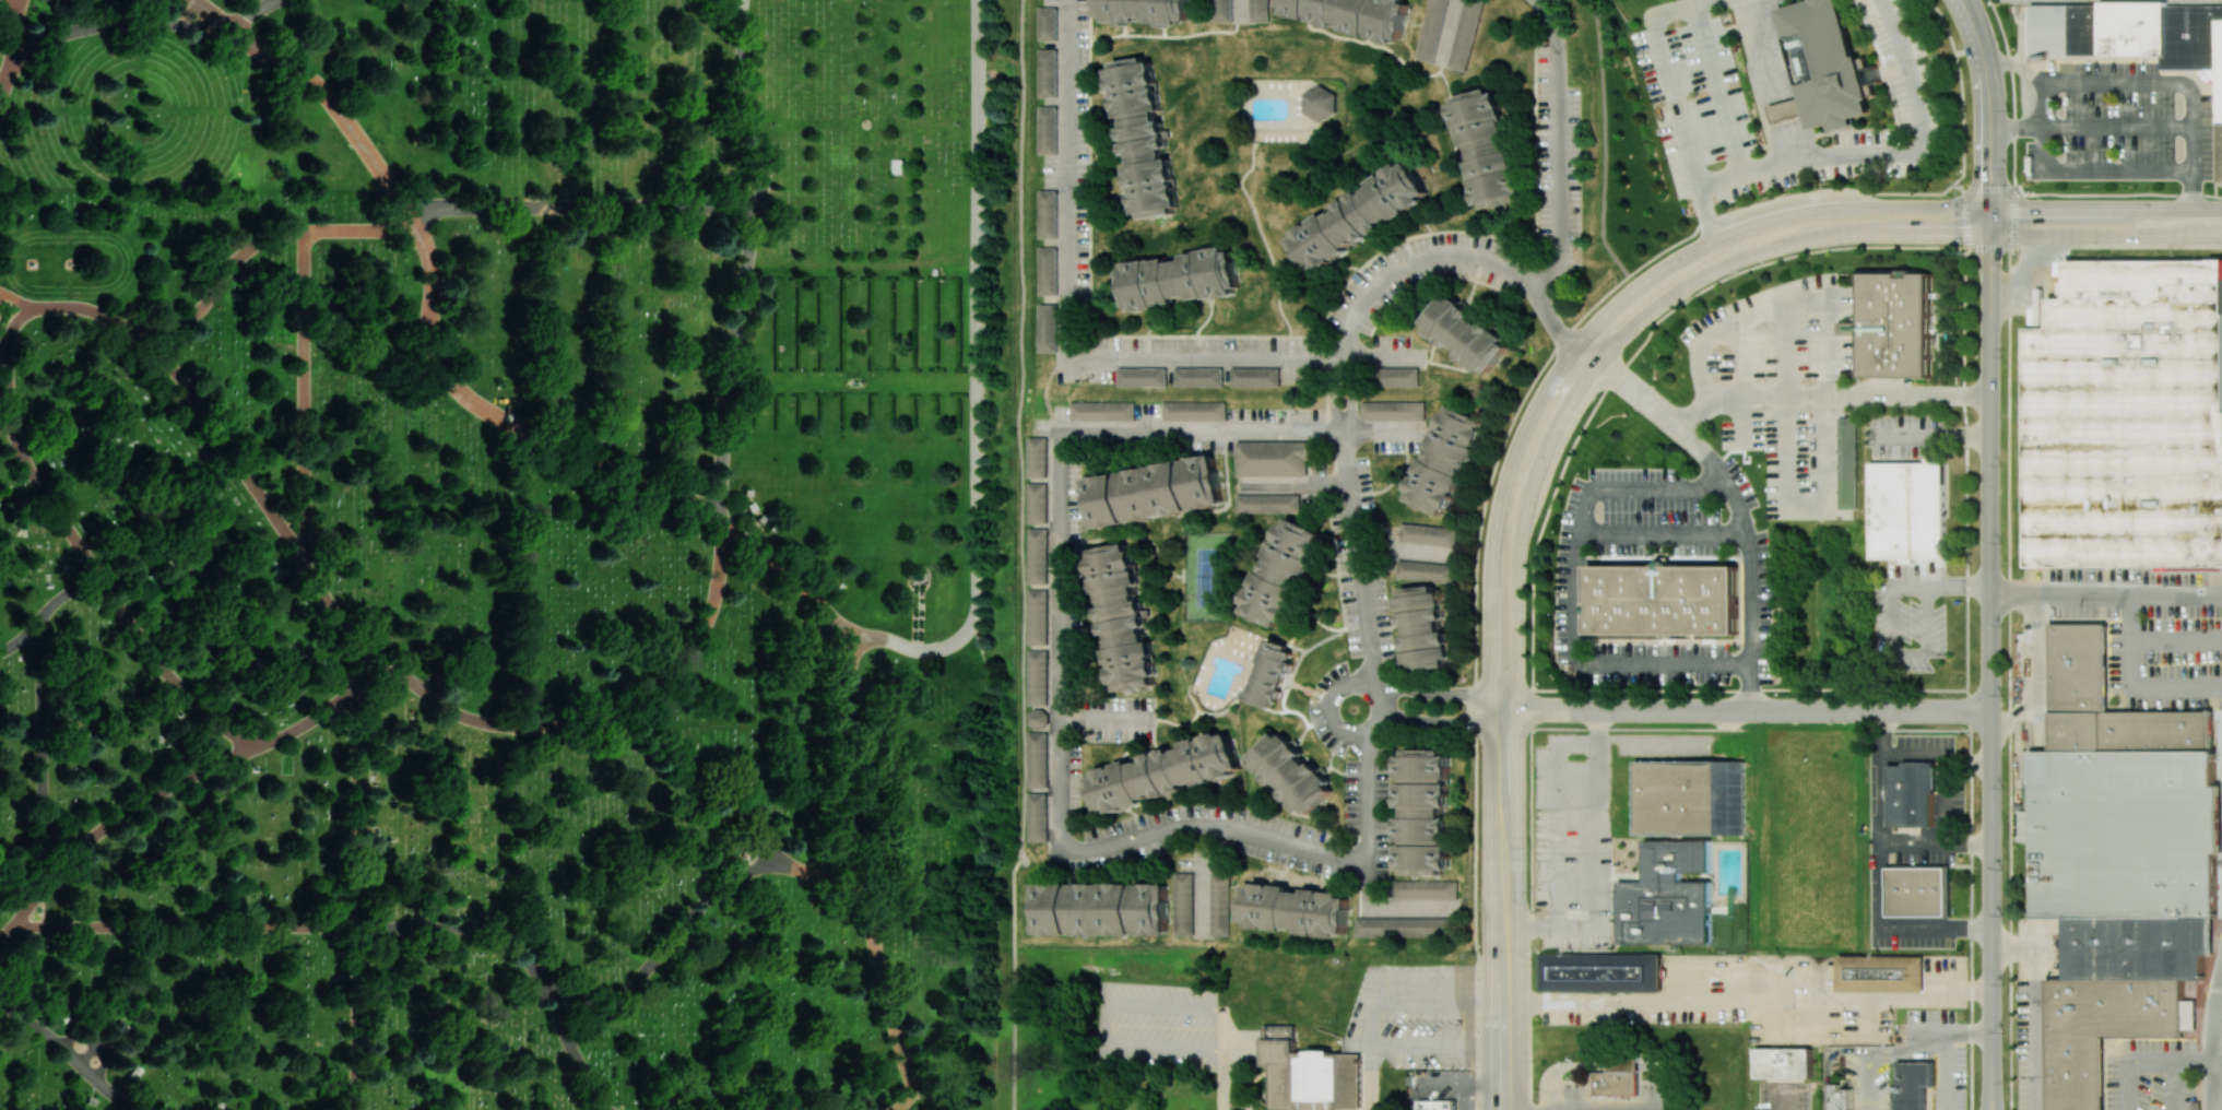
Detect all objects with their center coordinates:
road: (1706, 2)
road: (8, 8)
road: (1241, 8)
building: (1222, 10)
building: (1260, 10)
building: (1145, 11)
road: (1671, 11)
road: (15, 13)
road: (250, 14)
road: (210, 15)
building: (1354, 15)
road: (131, 22)
building: (1048, 23)
building: (1431, 29)
building: (1466, 34)
building: (2134, 34)
road: (24, 36)
road: (15, 45)
road: (1765, 51)
road: (24, 52)
building: (1824, 68)
building: (1048, 72)
road: (7, 79)
road: (2144, 83)
road: (334, 103)
building: (1320, 103)
road: (740, 106)
road: (1783, 113)
road: (1989, 115)
road: (2017, 127)
building: (1048, 130)
building: (1145, 137)
road: (1789, 143)
building: (1487, 147)
road: (1560, 147)
road: (1916, 155)
road: (2075, 172)
road: (582, 208)
road: (1877, 209)
traffic signals: (1989, 209)
building: (1048, 214)
building: (1359, 216)
road: (411, 217)
road: (362, 231)
road: (1890, 235)
traffic signals: (1989, 235)
building: (1048, 271)
building: (1181, 279)
road: (220, 281)
road: (16, 300)
road: (1780, 304)
road: (85, 308)
building: (1898, 324)
building: (1047, 328)
building: (1467, 333)
road: (12, 334)
road: (1069, 353)
road: (3, 356)
road: (730, 364)
building: (1142, 376)
building: (1198, 376)
building: (1255, 376)
building: (1396, 376)
road: (5, 377)
road: (1616, 378)
road: (977, 380)
road: (2, 391)
road: (1352, 394)
road: (1334, 395)
road: (1829, 395)
road: (306, 398)
building: (1394, 410)
building: (1102, 411)
building: (1194, 411)
building: (2128, 417)
road: (510, 425)
road: (1936, 440)
road: (225, 442)
building: (1037, 457)
building: (1270, 458)
building: (1446, 460)
building: (1847, 462)
road: (1293, 483)
road: (44, 489)
building: (1155, 492)
building: (1038, 503)
building: (1268, 503)
road: (1801, 507)
building: (1908, 510)
road: (1494, 529)
road: (1663, 531)
building: (1428, 534)
road: (1521, 538)
road: (1400, 548)
park: (508, 554)
building: (1038, 556)
road: (1357, 557)
building: (1425, 571)
building: (1285, 572)
road: (2009, 572)
road: (791, 576)
park: (1207, 576)
road: (1960, 583)
road: (1913, 584)
road: (68, 590)
road: (2106, 592)
road: (1573, 595)
building: (1662, 599)
road: (1061, 614)
road: (338, 615)
building: (1038, 616)
road: (919, 617)
building: (1123, 617)
building: (1425, 627)
parking lot: (2150, 630)
road: (23, 636)
road: (2176, 638)
road: (693, 649)
road: (1914, 653)
road: (1990, 672)
road: (167, 673)
building: (1273, 673)
road: (2033, 673)
building: (1038, 677)
road: (2132, 683)
road: (1431, 694)
road: (1504, 701)
road: (1753, 710)
road: (468, 718)
building: (1037, 718)
road: (1104, 718)
road: (314, 719)
road: (1442, 723)
road: (1370, 731)
road: (44, 751)
road: (1937, 755)
building: (1038, 759)
road: (859, 761)
road: (1596, 770)
building: (1163, 772)
building: (1291, 772)
road: (695, 777)
building: (1911, 794)
building: (1689, 796)
road: (358, 800)
road: (139, 805)
building: (1423, 812)
building: (1038, 816)
road: (1506, 827)
building: (2125, 832)
road: (1936, 842)
road: (1558, 861)
road: (1366, 863)
road: (1881, 872)
road: (819, 876)
road: (1596, 881)
building: (1425, 889)
building: (1918, 891)
building: (1668, 896)
building: (1183, 904)
building: (1219, 905)
road: (29, 907)
building: (1102, 908)
building: (1296, 909)
road: (187, 925)
road: (470, 926)
building: (1405, 926)
road: (1533, 928)
road: (1577, 929)
road: (8, 935)
building: (2138, 946)
road: (666, 947)
building: (1600, 972)
building: (1881, 973)
road: (1012, 981)
road: (1749, 996)
road: (2220, 1000)
road: (888, 1001)
road: (1384, 1002)
road: (1509, 1008)
road: (1110, 1011)
road: (357, 1018)
parking lot: (1155, 1026)
road: (1958, 1030)
building: (2100, 1030)
road: (1439, 1042)
road: (2212, 1044)
road: (572, 1051)
road: (1937, 1051)
road: (69, 1052)
road: (2153, 1061)
road: (2193, 1061)
road: (1828, 1062)
building: (1783, 1063)
building: (1623, 1065)
road: (1623, 1065)
road: (1560, 1066)
road: (1350, 1072)
road: (1674, 1073)
building: (1312, 1074)
road: (1241, 1076)
road: (1224, 1078)
road: (1867, 1079)
gas station: (1616, 1084)
building: (1912, 1084)
parking lot: (1882, 1085)
building: (354, 1091)
building: (1841, 1097)
road: (1504, 1100)
road: (1509, 1100)
building: (1438, 1105)
road: (1615, 1109)

